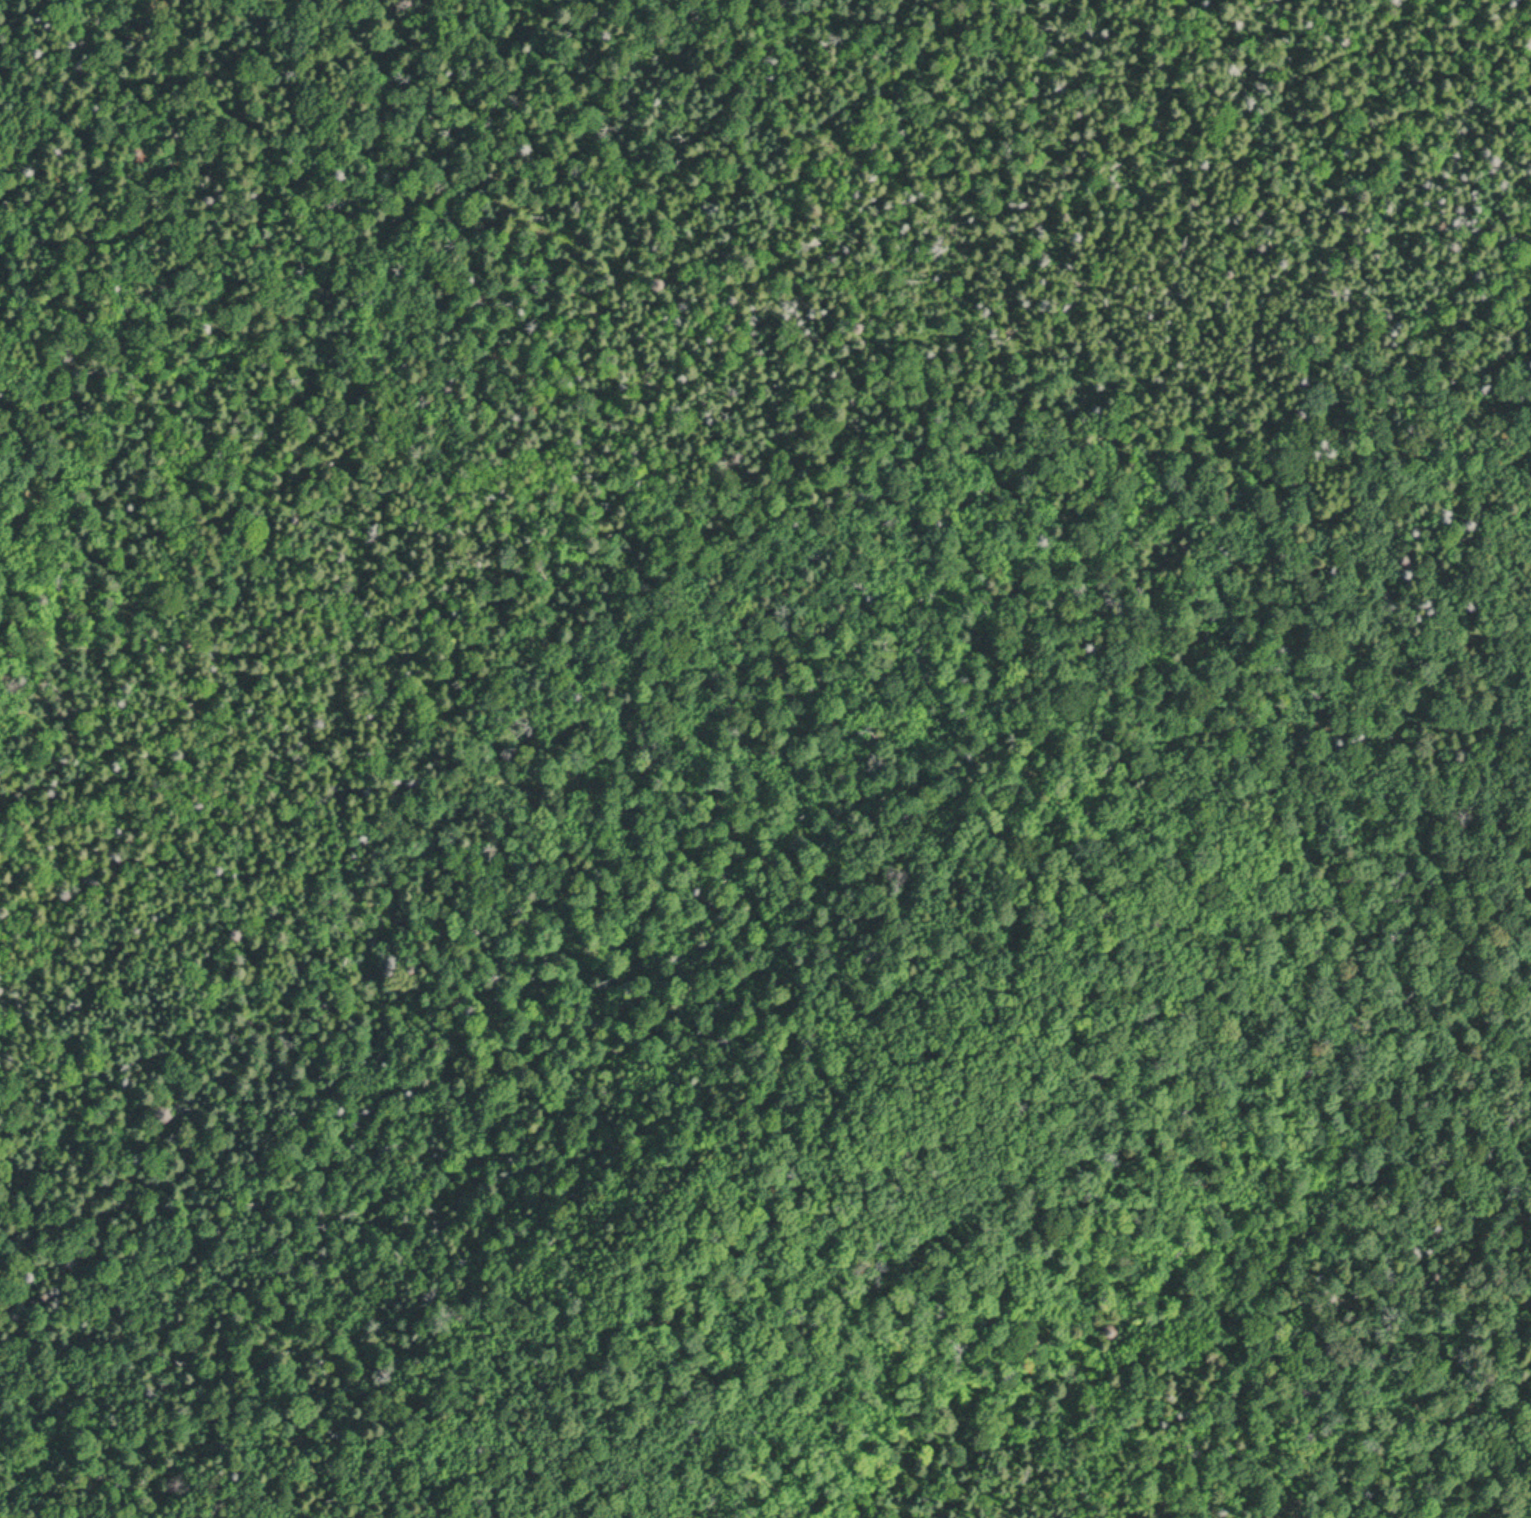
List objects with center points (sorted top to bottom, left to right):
road: (1479, 1452)

